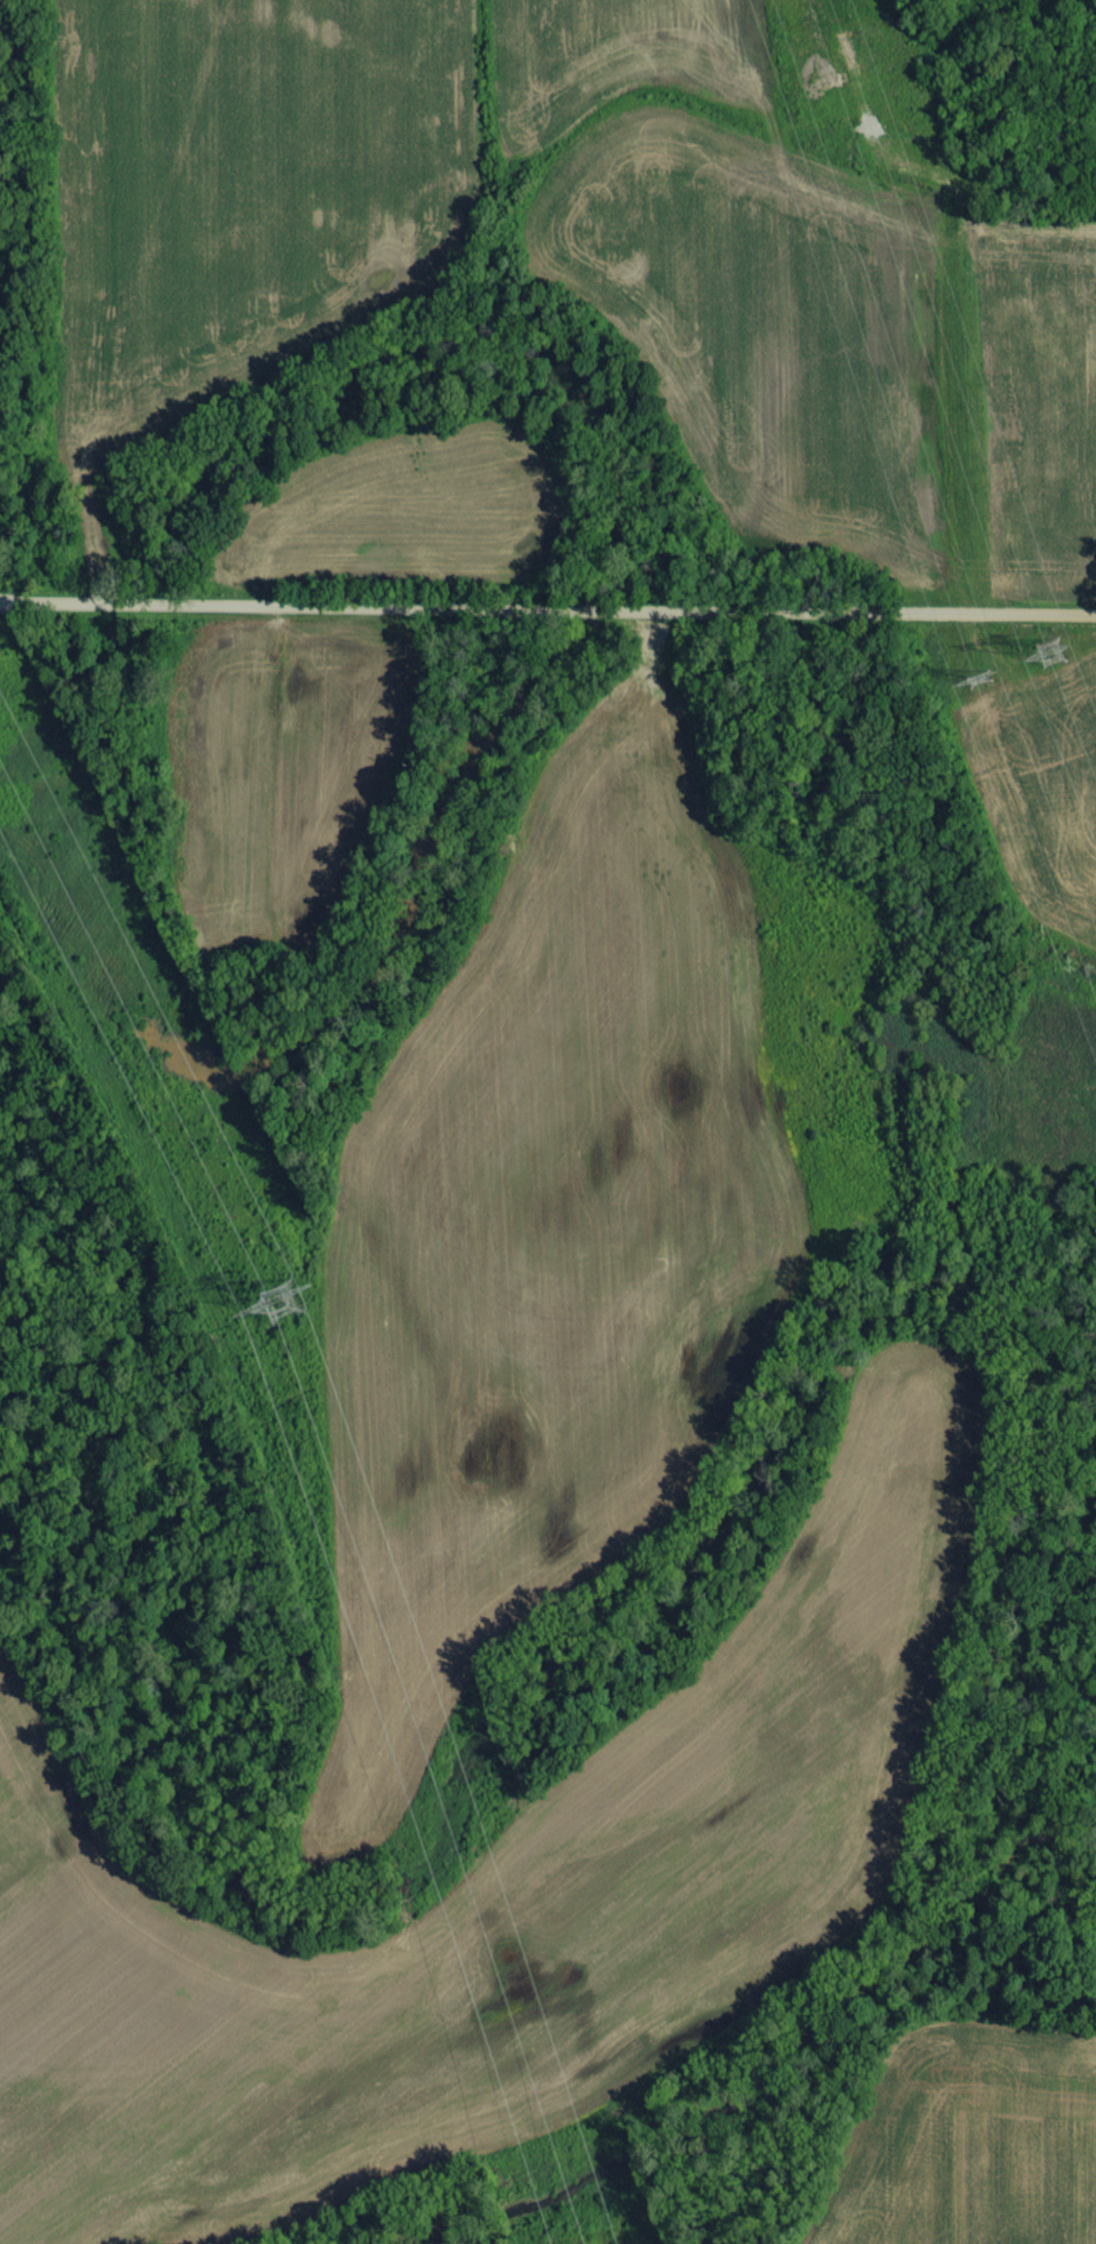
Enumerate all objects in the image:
road: (547, 605)
power tower: (1056, 665)
power tower: (982, 689)
power tower: (285, 1310)

